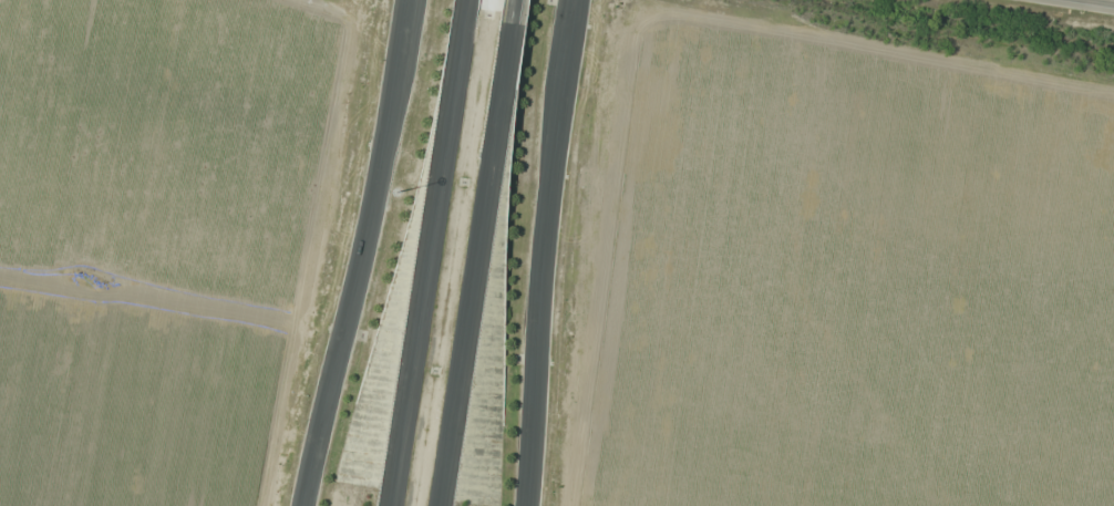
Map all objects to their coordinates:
road: (518, 0)
road: (538, 251)
road: (354, 252)
road: (430, 252)
road: (482, 254)

